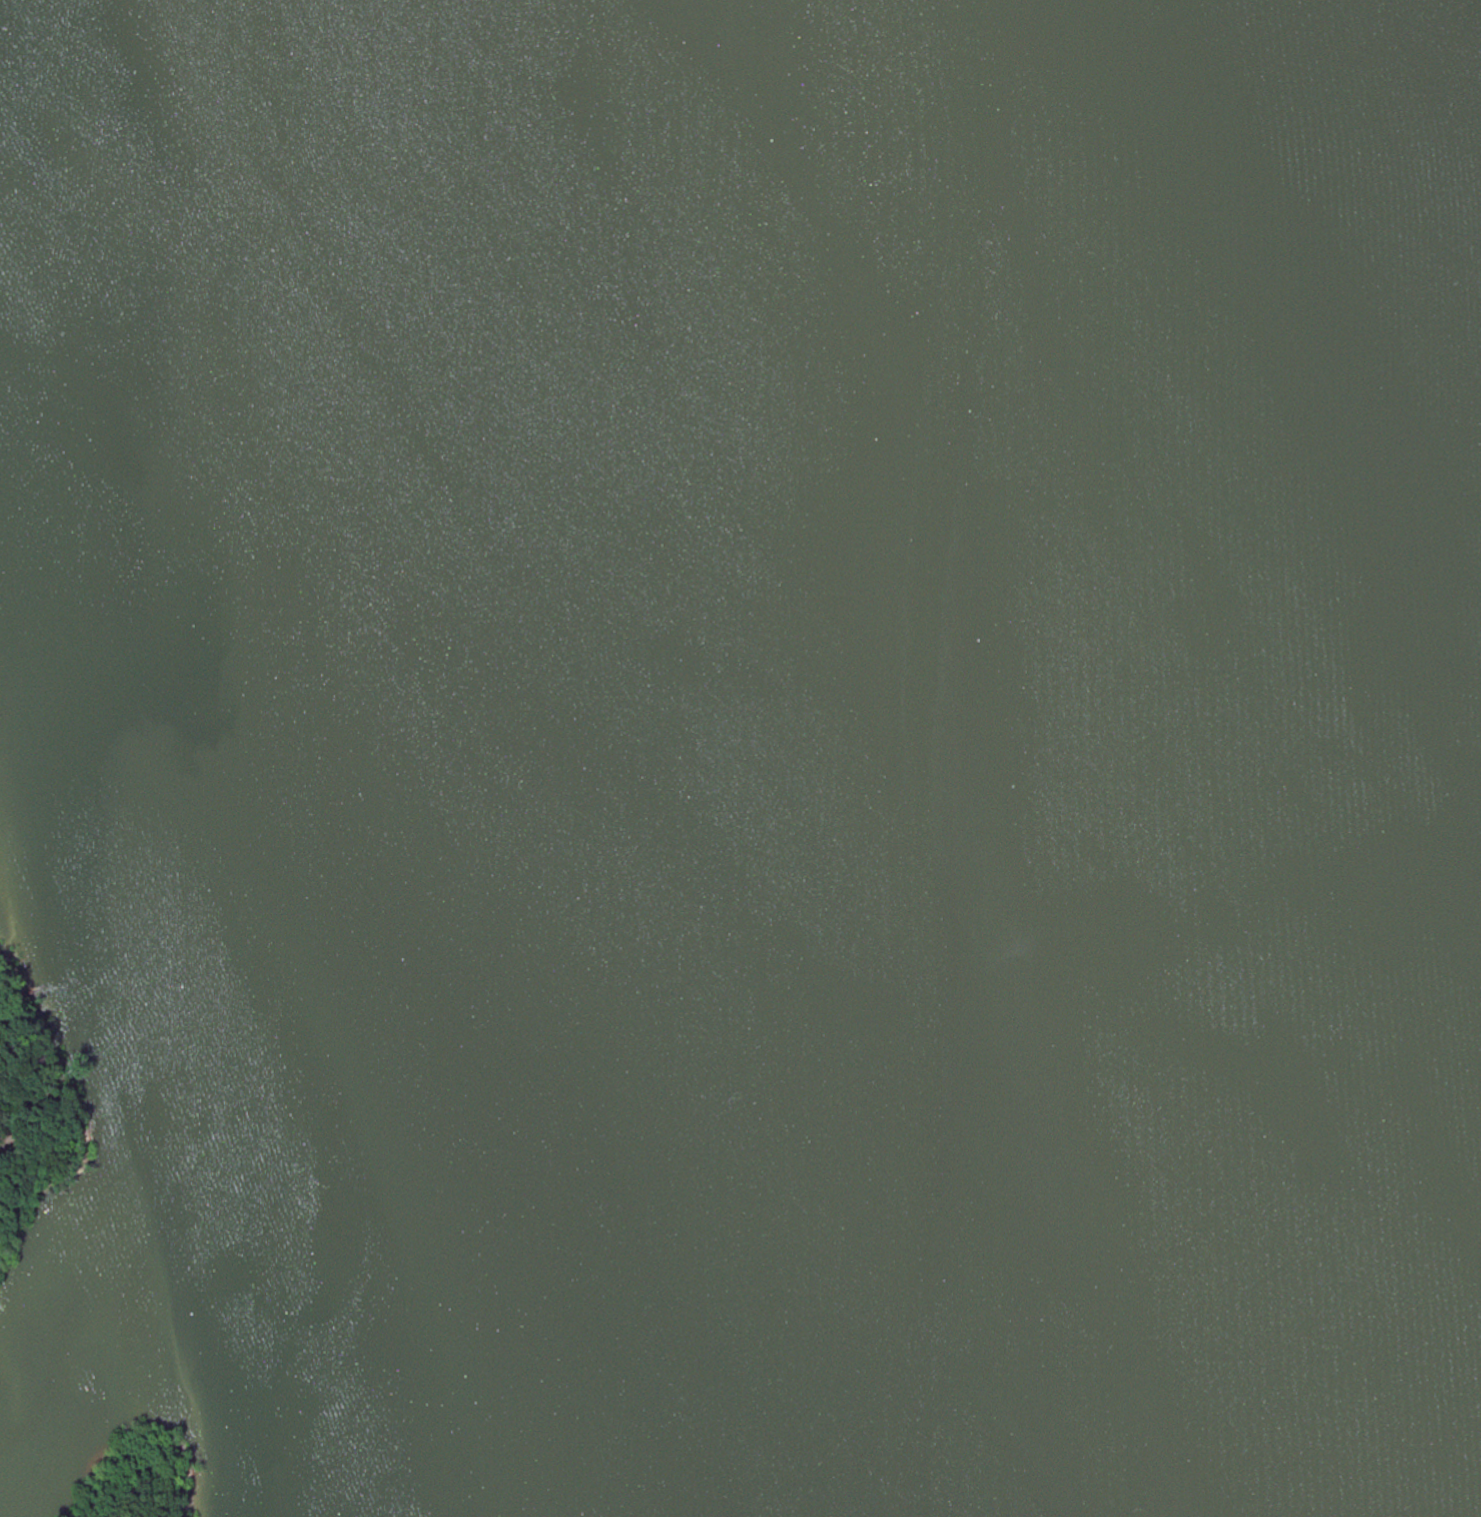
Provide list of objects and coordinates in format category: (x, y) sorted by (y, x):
river: (1448, 102)

